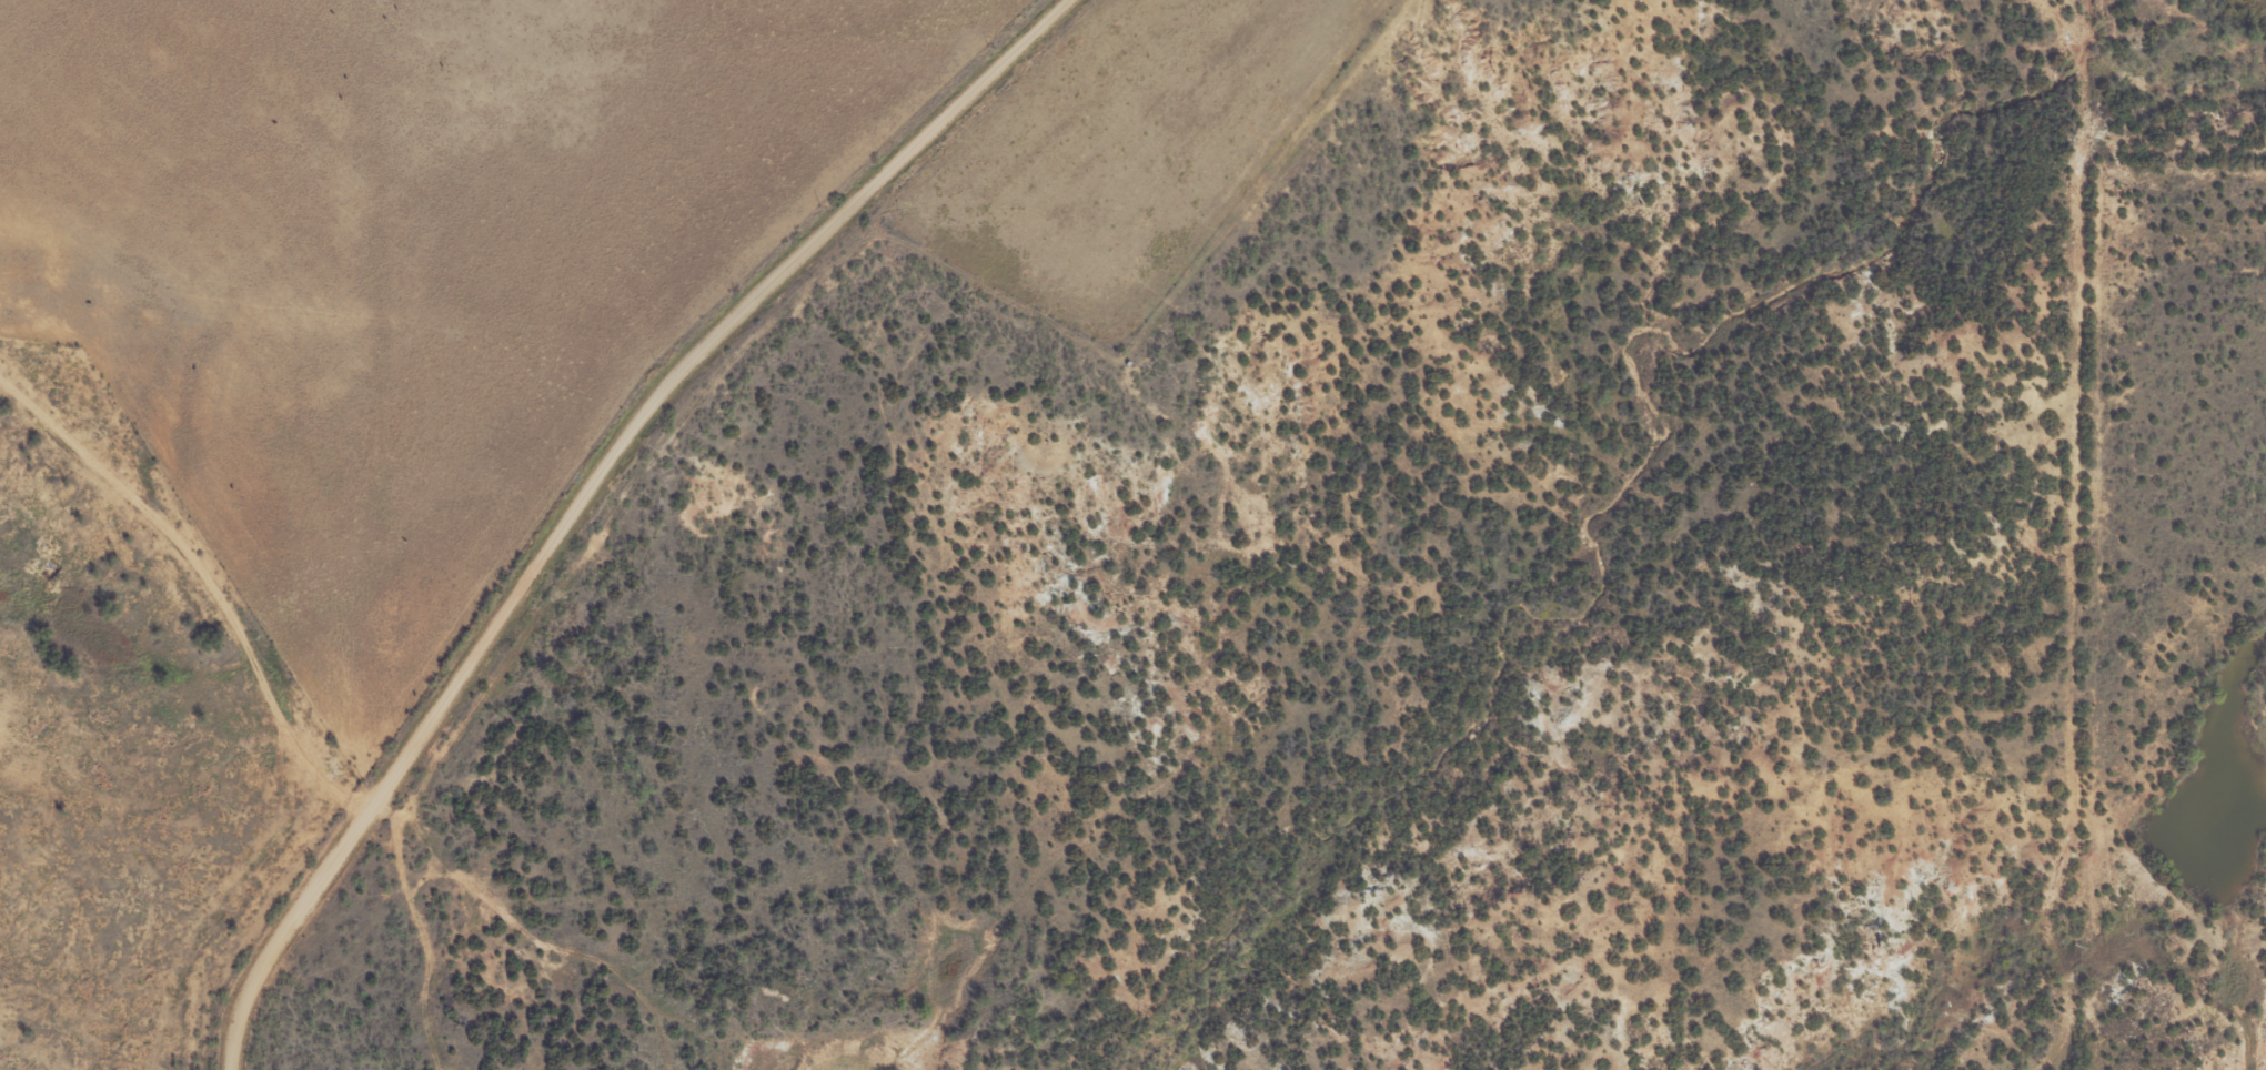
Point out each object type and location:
road: (590, 488)
road: (251, 622)

